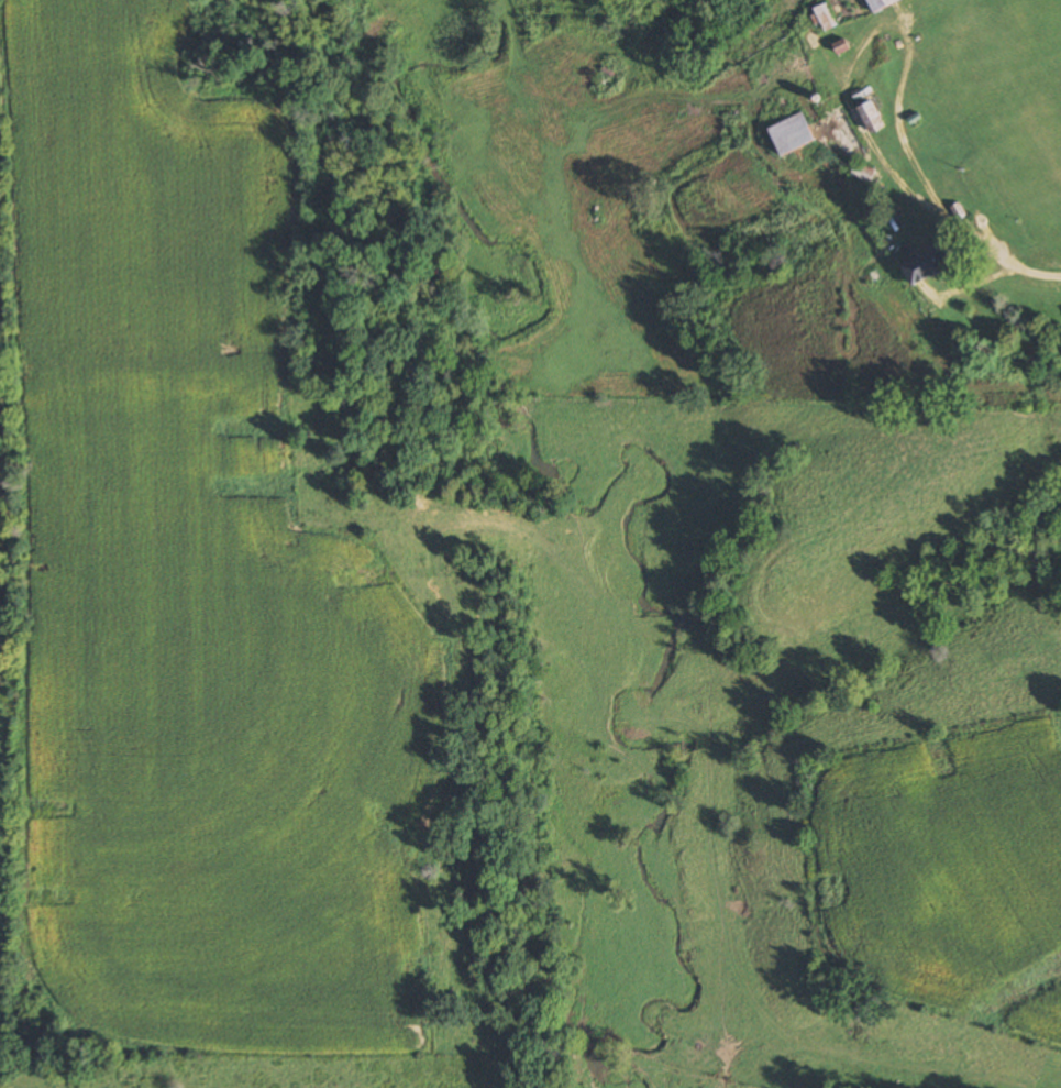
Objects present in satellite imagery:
building: (880, 3)
building: (825, 18)
building: (872, 118)
building: (792, 134)
building: (863, 174)
building: (929, 266)
road: (1036, 276)

